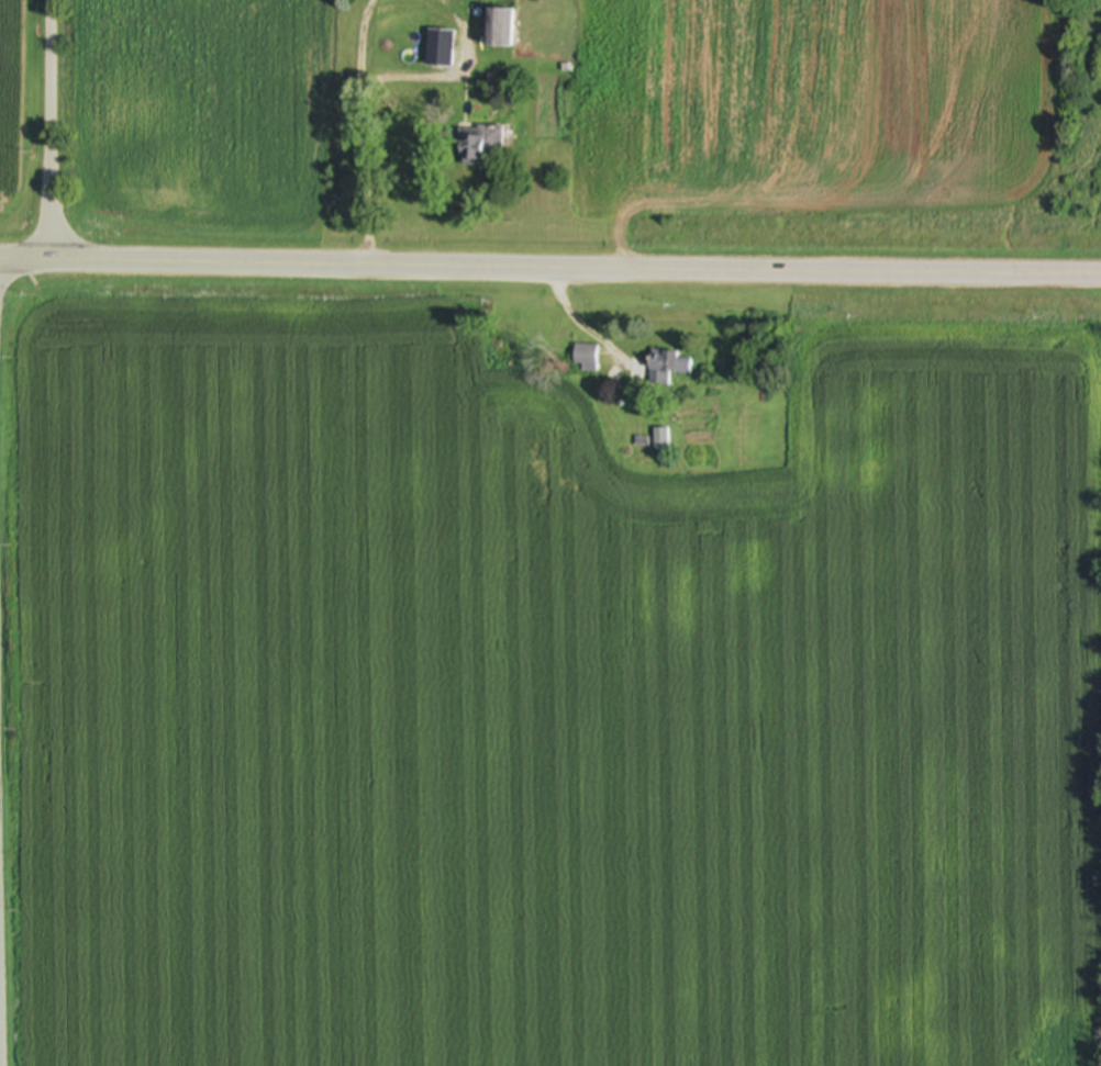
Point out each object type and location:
road: (367, 24)
building: (500, 31)
building: (440, 51)
road: (52, 128)
building: (478, 146)
road: (549, 270)
building: (667, 366)
building: (661, 438)

